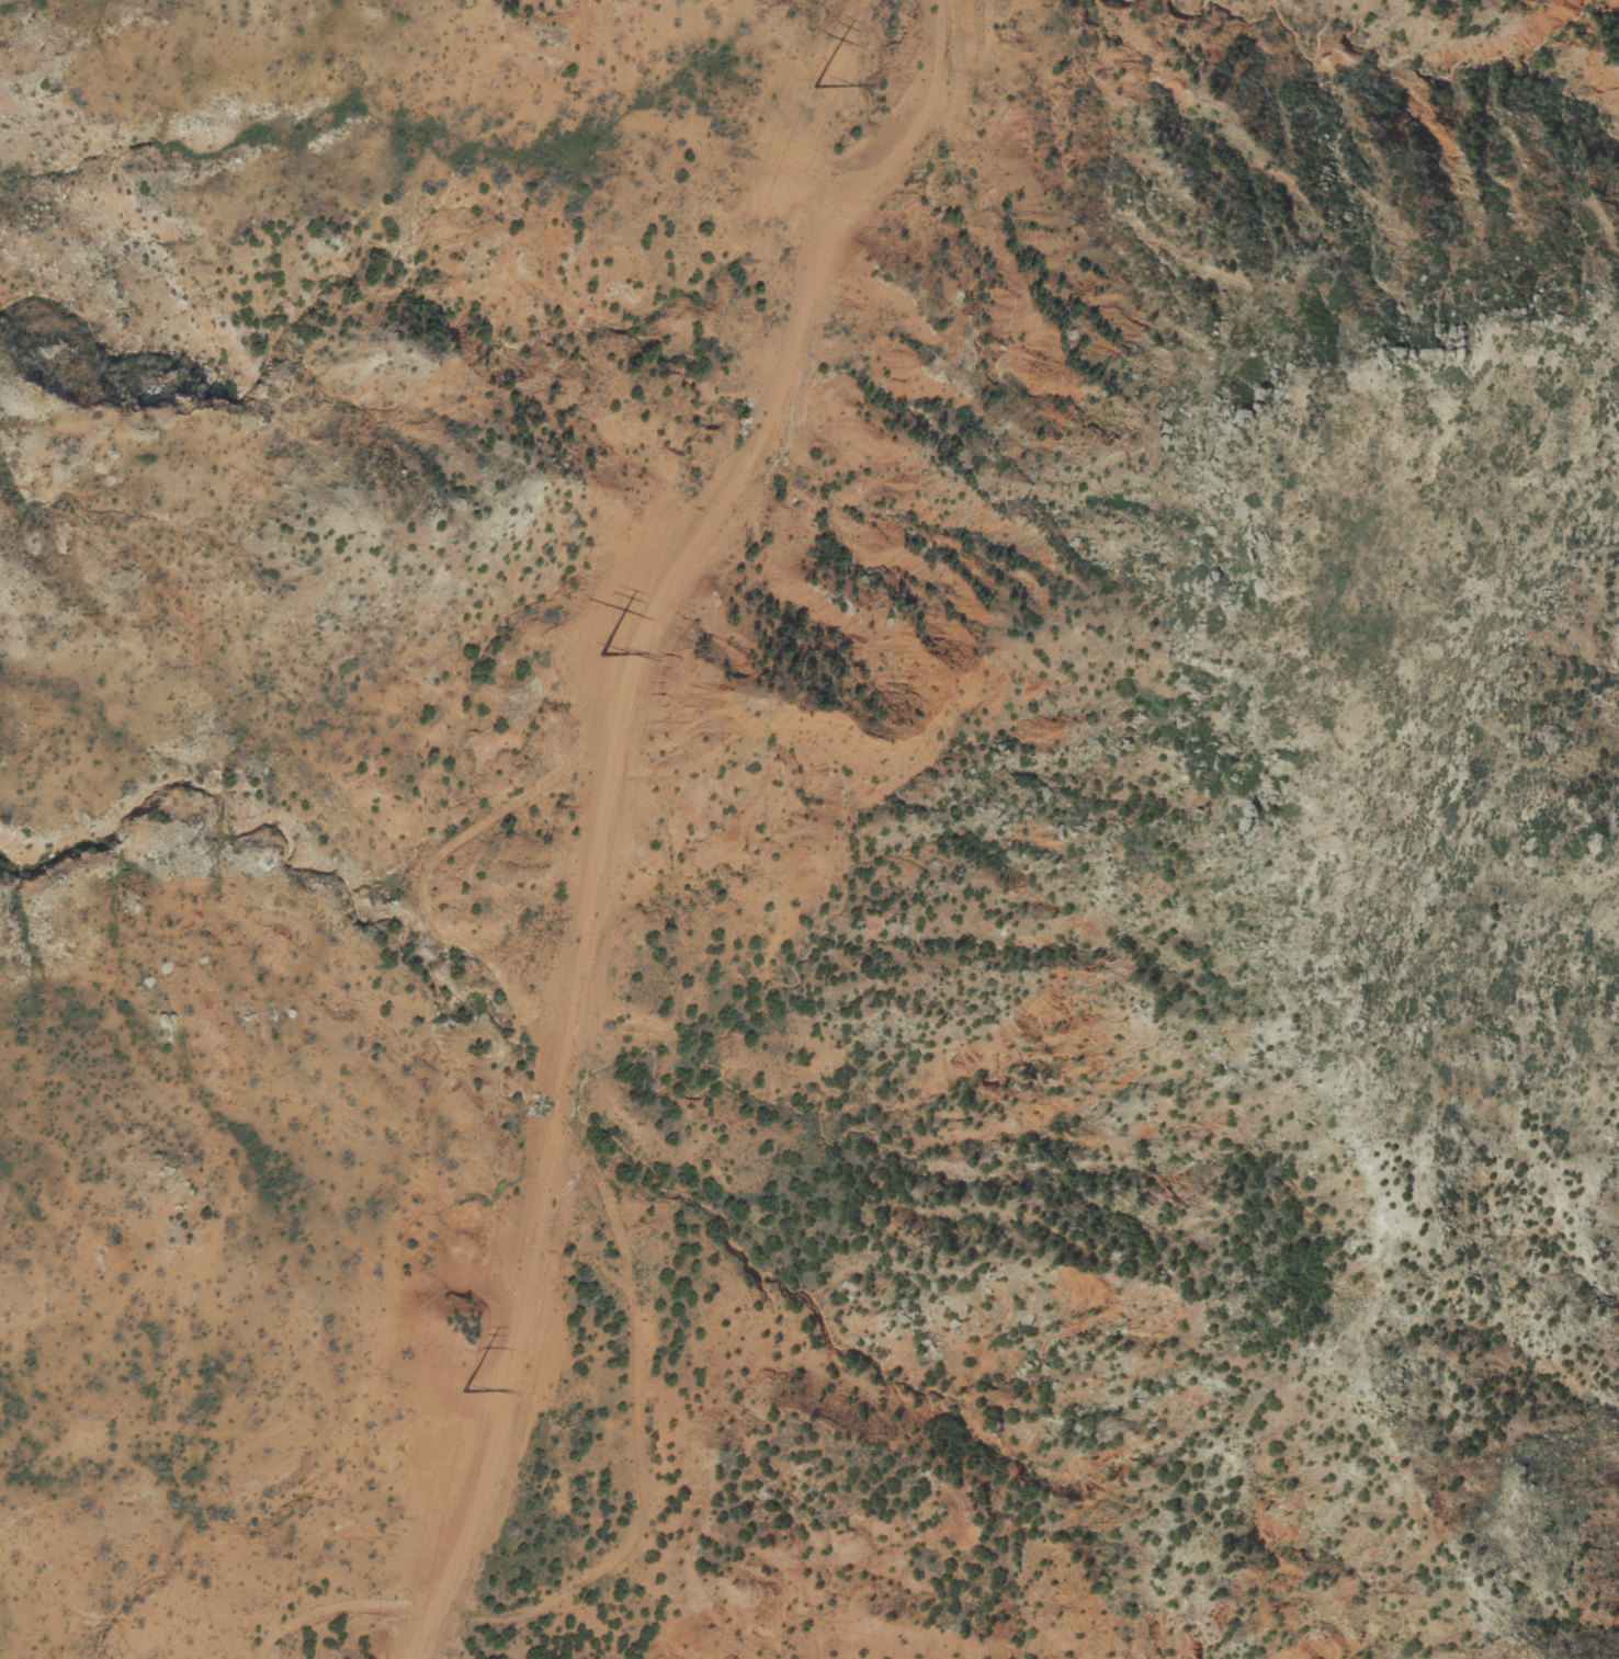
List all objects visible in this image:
power tower: (813, 86)
power tower: (600, 654)
power tower: (461, 1391)

